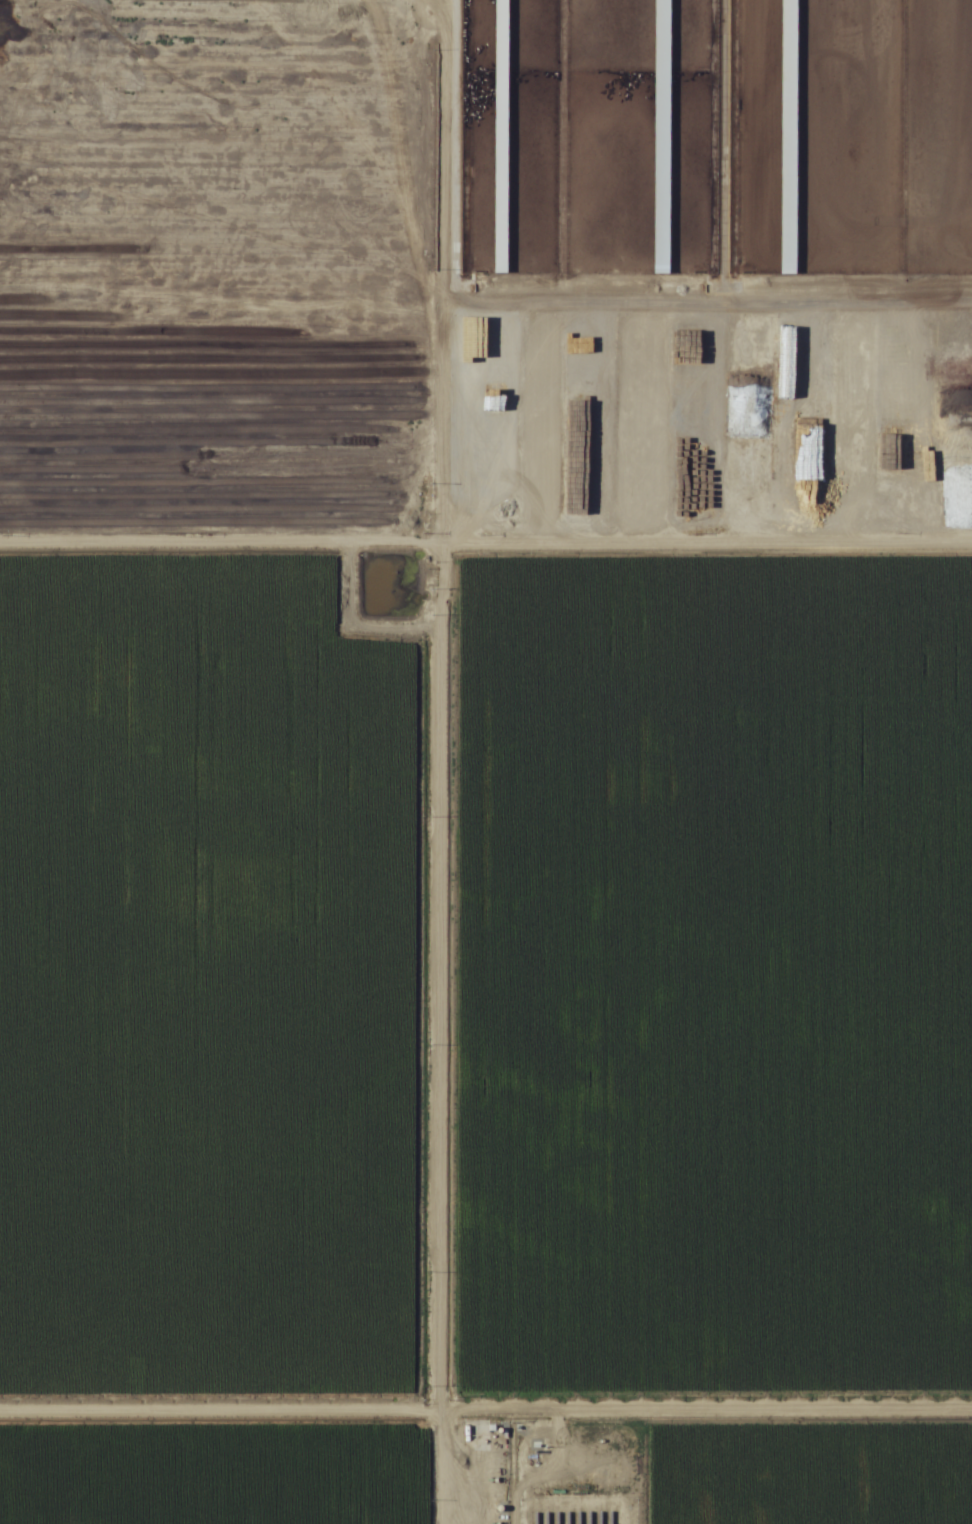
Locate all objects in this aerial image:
building: (789, 195)
building: (500, 235)
building: (785, 490)
building: (467, 504)
road: (486, 553)
road: (437, 1039)
road: (486, 1410)

